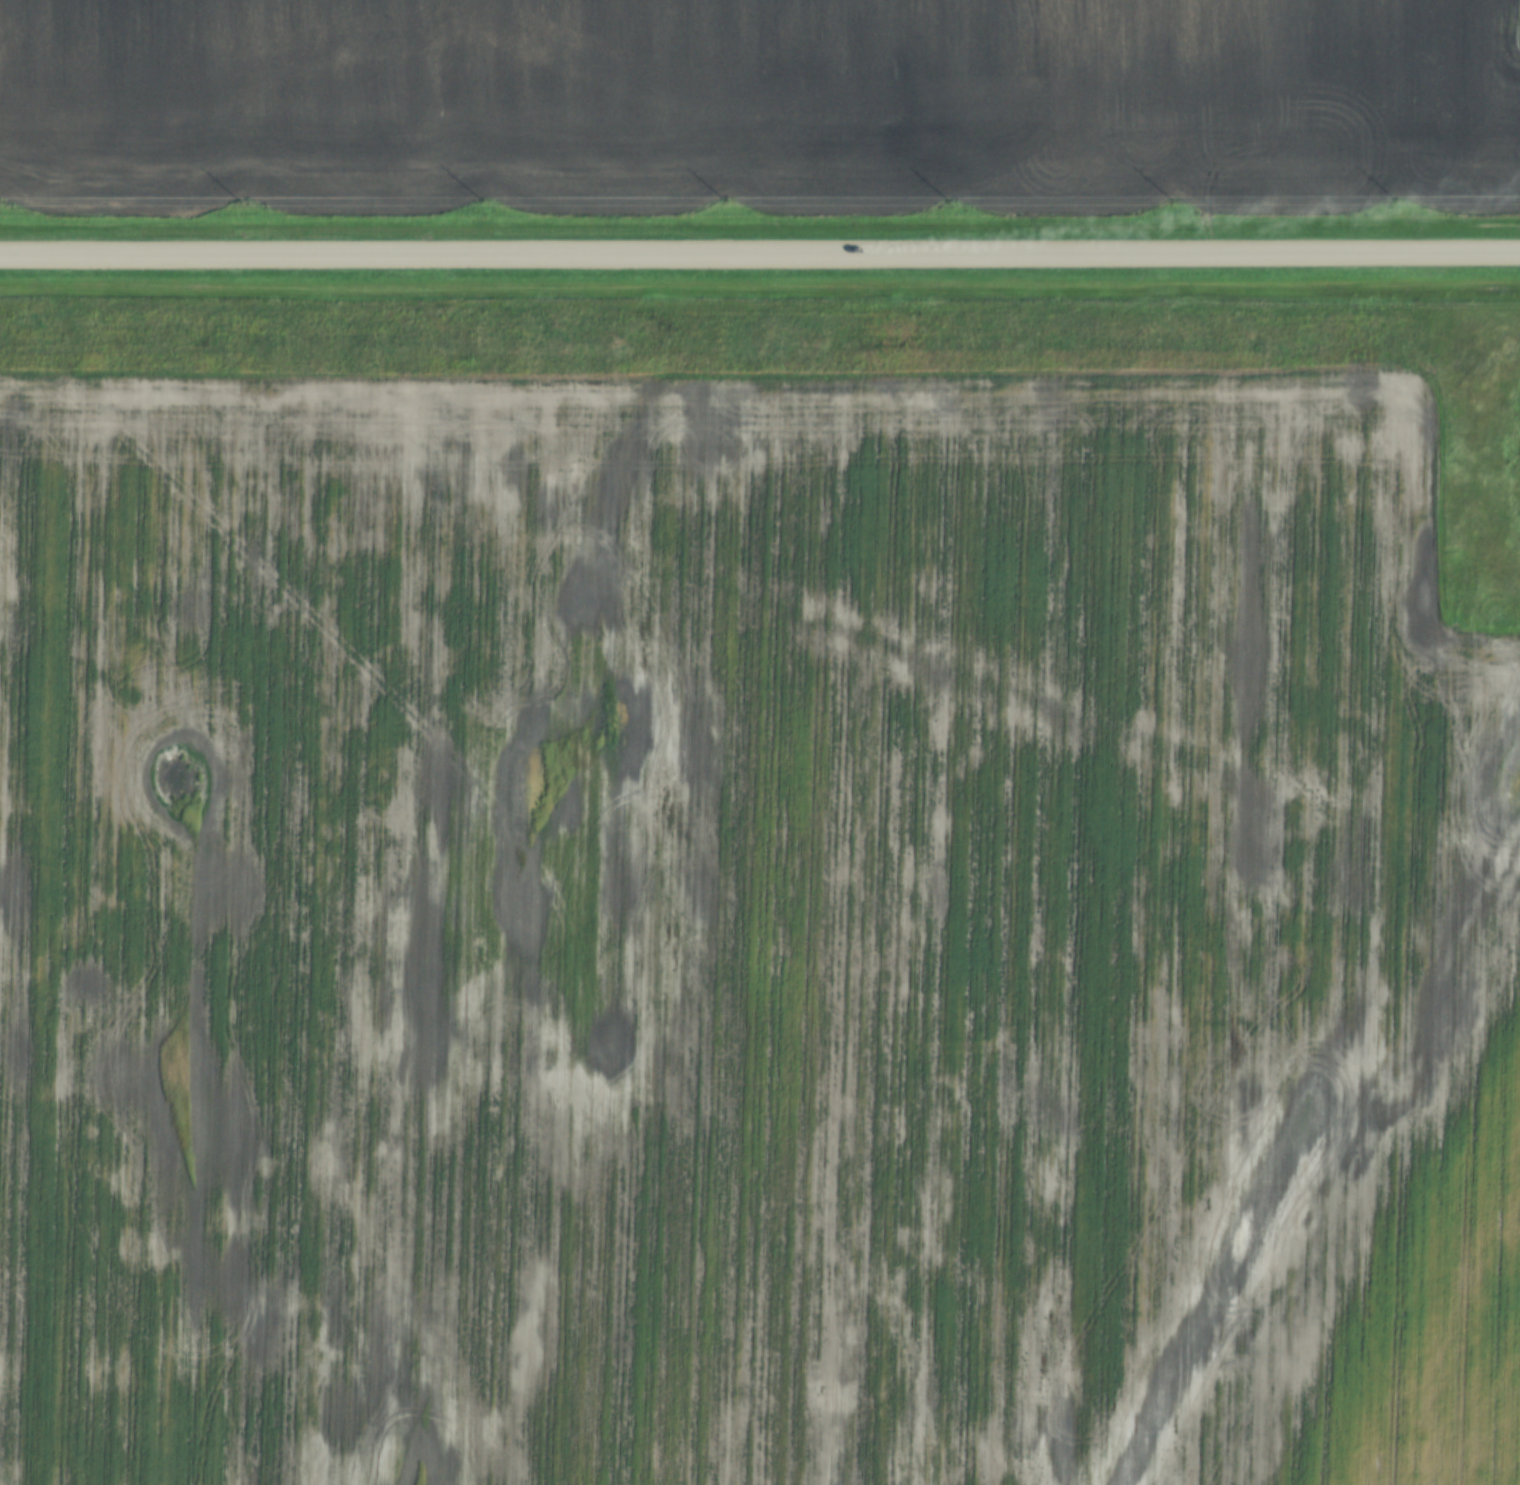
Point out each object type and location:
road: (759, 252)

